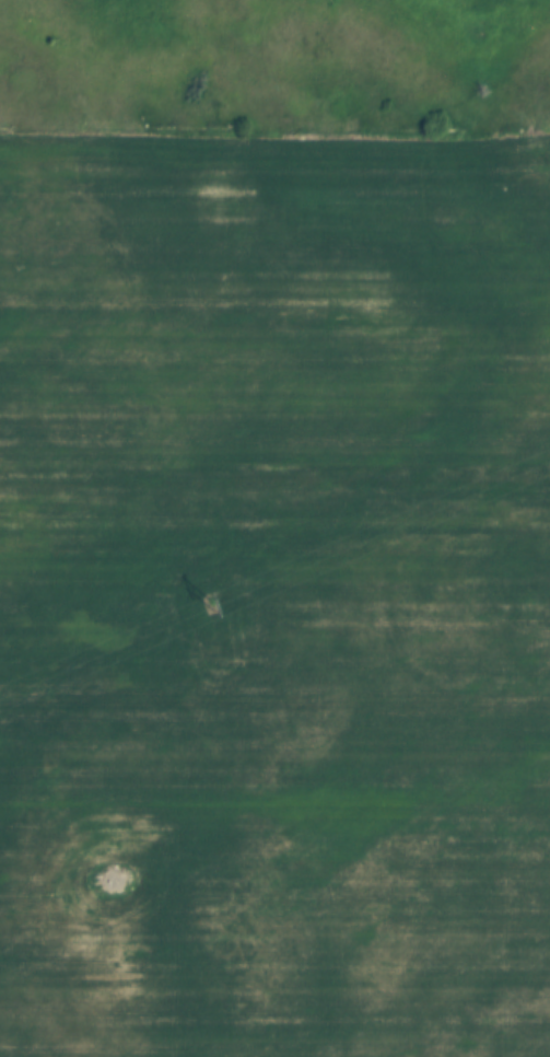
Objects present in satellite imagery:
power tower: (210, 604)

